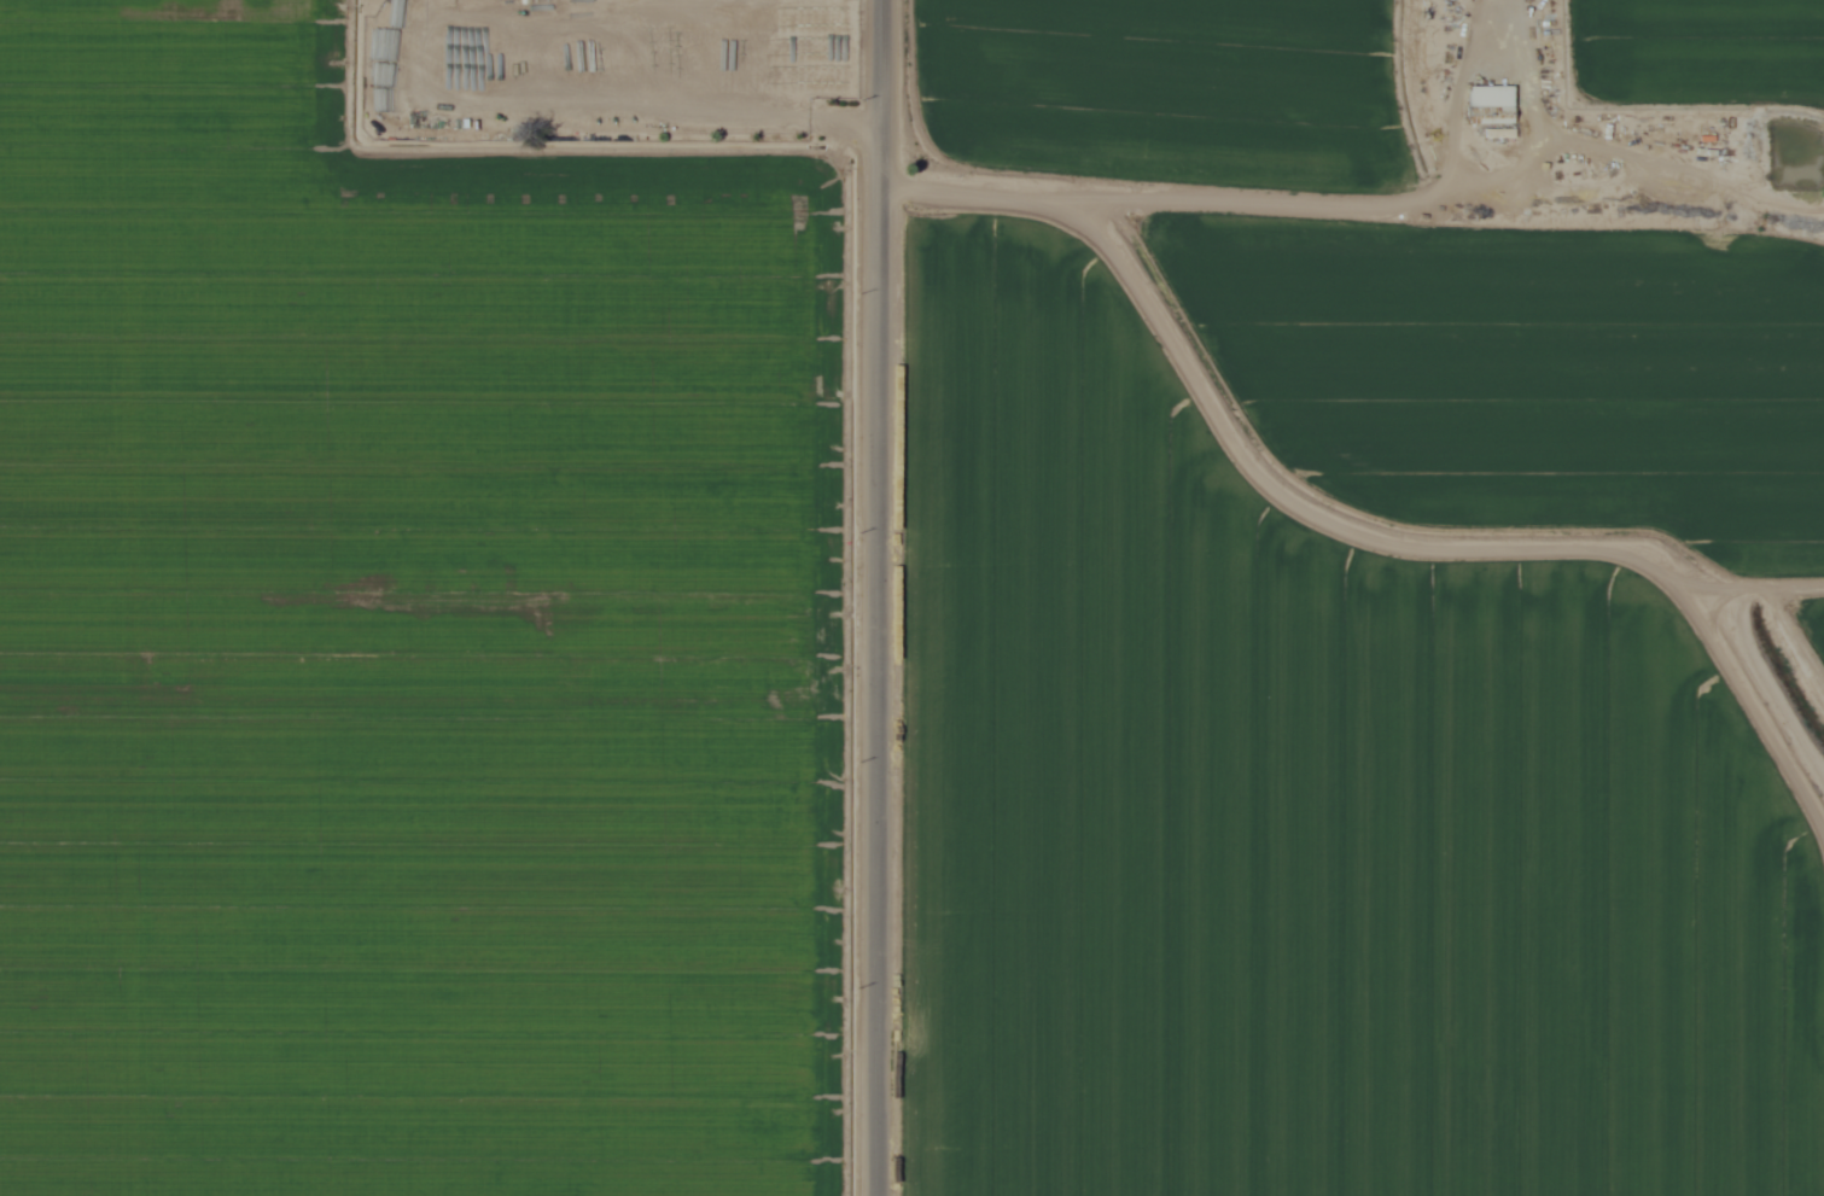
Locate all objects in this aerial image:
building: (389, 42)
building: (1492, 104)
road: (899, 597)

